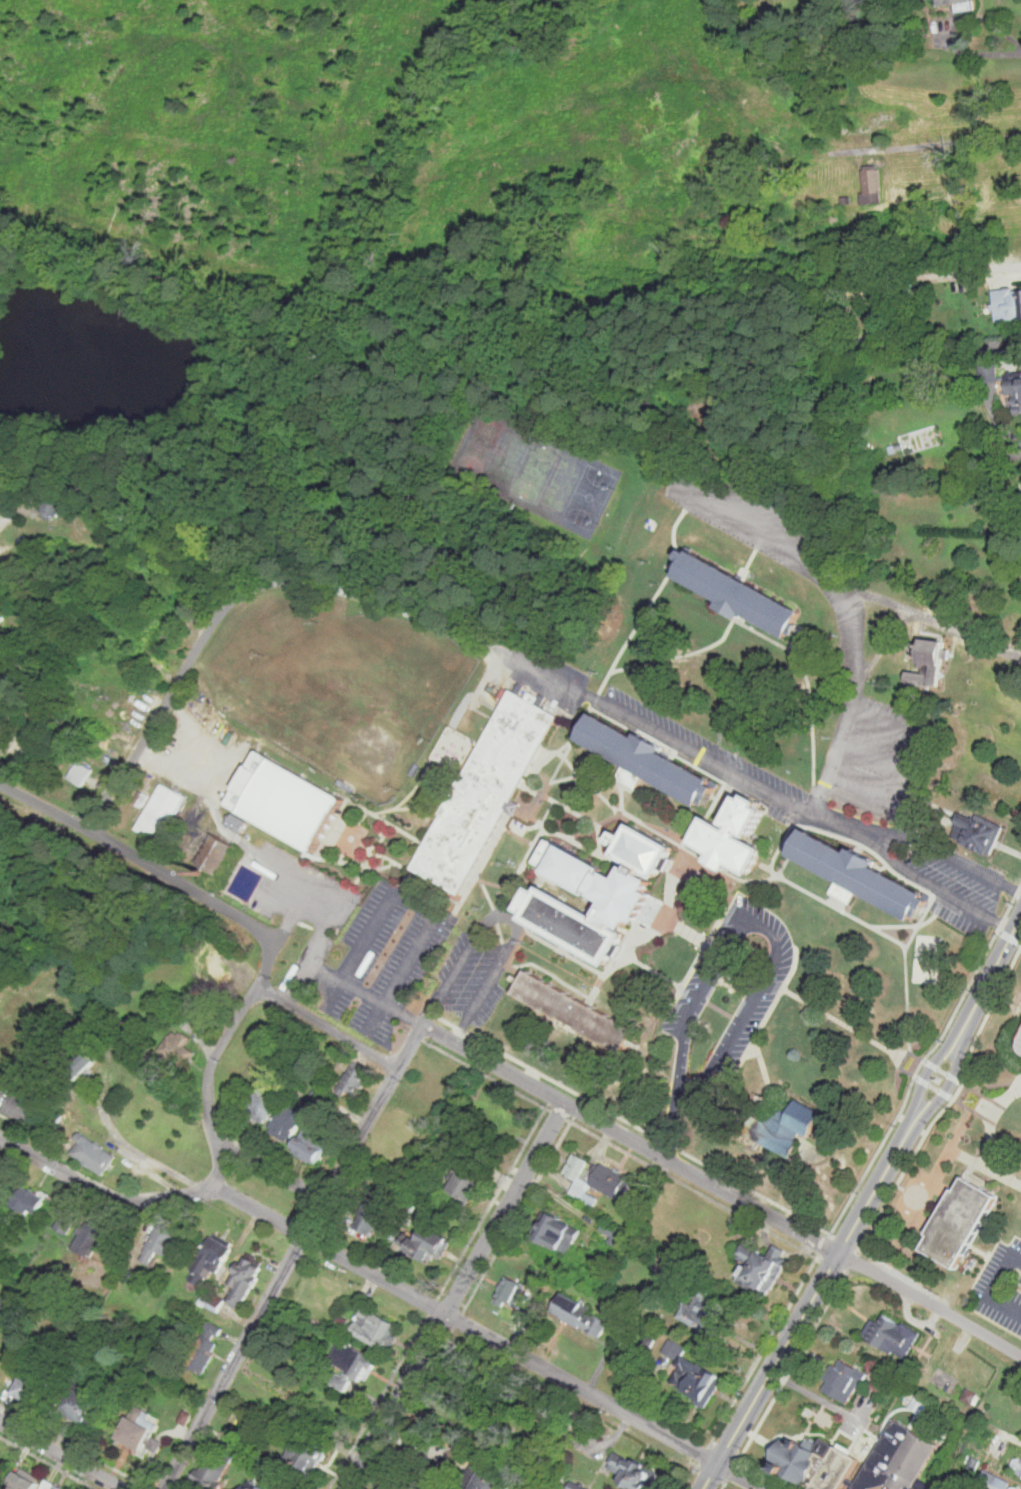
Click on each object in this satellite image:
building: (952, 3)
road: (978, 52)
road: (930, 144)
building: (871, 187)
building: (972, 257)
road: (994, 269)
building: (1007, 304)
building: (1004, 382)
road: (1005, 429)
park: (517, 464)
park: (588, 497)
building: (54, 501)
road: (775, 531)
building: (88, 546)
building: (737, 574)
building: (735, 596)
building: (158, 607)
building: (0, 616)
road: (939, 619)
building: (164, 628)
road: (856, 651)
building: (151, 658)
building: (927, 663)
road: (575, 689)
park: (354, 695)
road: (165, 702)
road: (896, 726)
road: (872, 753)
building: (643, 760)
building: (77, 772)
building: (488, 781)
building: (288, 791)
building: (158, 810)
building: (235, 823)
building: (977, 831)
building: (732, 832)
building: (213, 852)
road: (953, 859)
road: (159, 868)
building: (857, 875)
road: (304, 882)
road: (943, 889)
building: (593, 891)
road: (416, 904)
building: (162, 907)
road: (295, 911)
road: (508, 915)
road: (762, 926)
road: (322, 937)
park: (927, 958)
road: (998, 960)
building: (216, 973)
road: (345, 982)
building: (573, 1011)
road: (327, 1027)
building: (1020, 1027)
building: (1018, 1043)
building: (177, 1047)
building: (77, 1060)
road: (934, 1061)
road: (217, 1063)
road: (953, 1072)
building: (352, 1077)
building: (261, 1102)
building: (18, 1106)
building: (286, 1118)
road: (672, 1125)
road: (608, 1126)
building: (784, 1126)
building: (310, 1141)
building: (92, 1153)
building: (575, 1165)
building: (610, 1180)
building: (465, 1184)
road: (180, 1195)
building: (26, 1199)
building: (965, 1208)
building: (373, 1210)
building: (424, 1217)
building: (64, 1222)
building: (612, 1231)
building: (556, 1232)
building: (92, 1236)
building: (161, 1241)
building: (428, 1242)
building: (210, 1256)
building: (762, 1268)
building: (241, 1278)
road: (280, 1278)
road: (993, 1286)
building: (509, 1291)
road: (454, 1295)
road: (929, 1306)
road: (806, 1307)
building: (701, 1308)
building: (577, 1314)
building: (373, 1327)
building: (893, 1335)
road: (490, 1337)
building: (649, 1340)
building: (202, 1348)
building: (344, 1364)
building: (361, 1366)
building: (72, 1367)
building: (691, 1374)
building: (844, 1380)
building: (28, 1387)
building: (970, 1395)
building: (919, 1403)
building: (75, 1404)
building: (185, 1418)
building: (139, 1433)
road: (61, 1455)
building: (303, 1455)
building: (855, 1460)
building: (213, 1465)
building: (1017, 1467)
building: (632, 1470)
building: (475, 1477)
building: (994, 1481)
building: (21, 1482)
building: (395, 1482)
building: (577, 1485)
building: (261, 1486)
building: (55, 1487)
building: (250, 1487)

